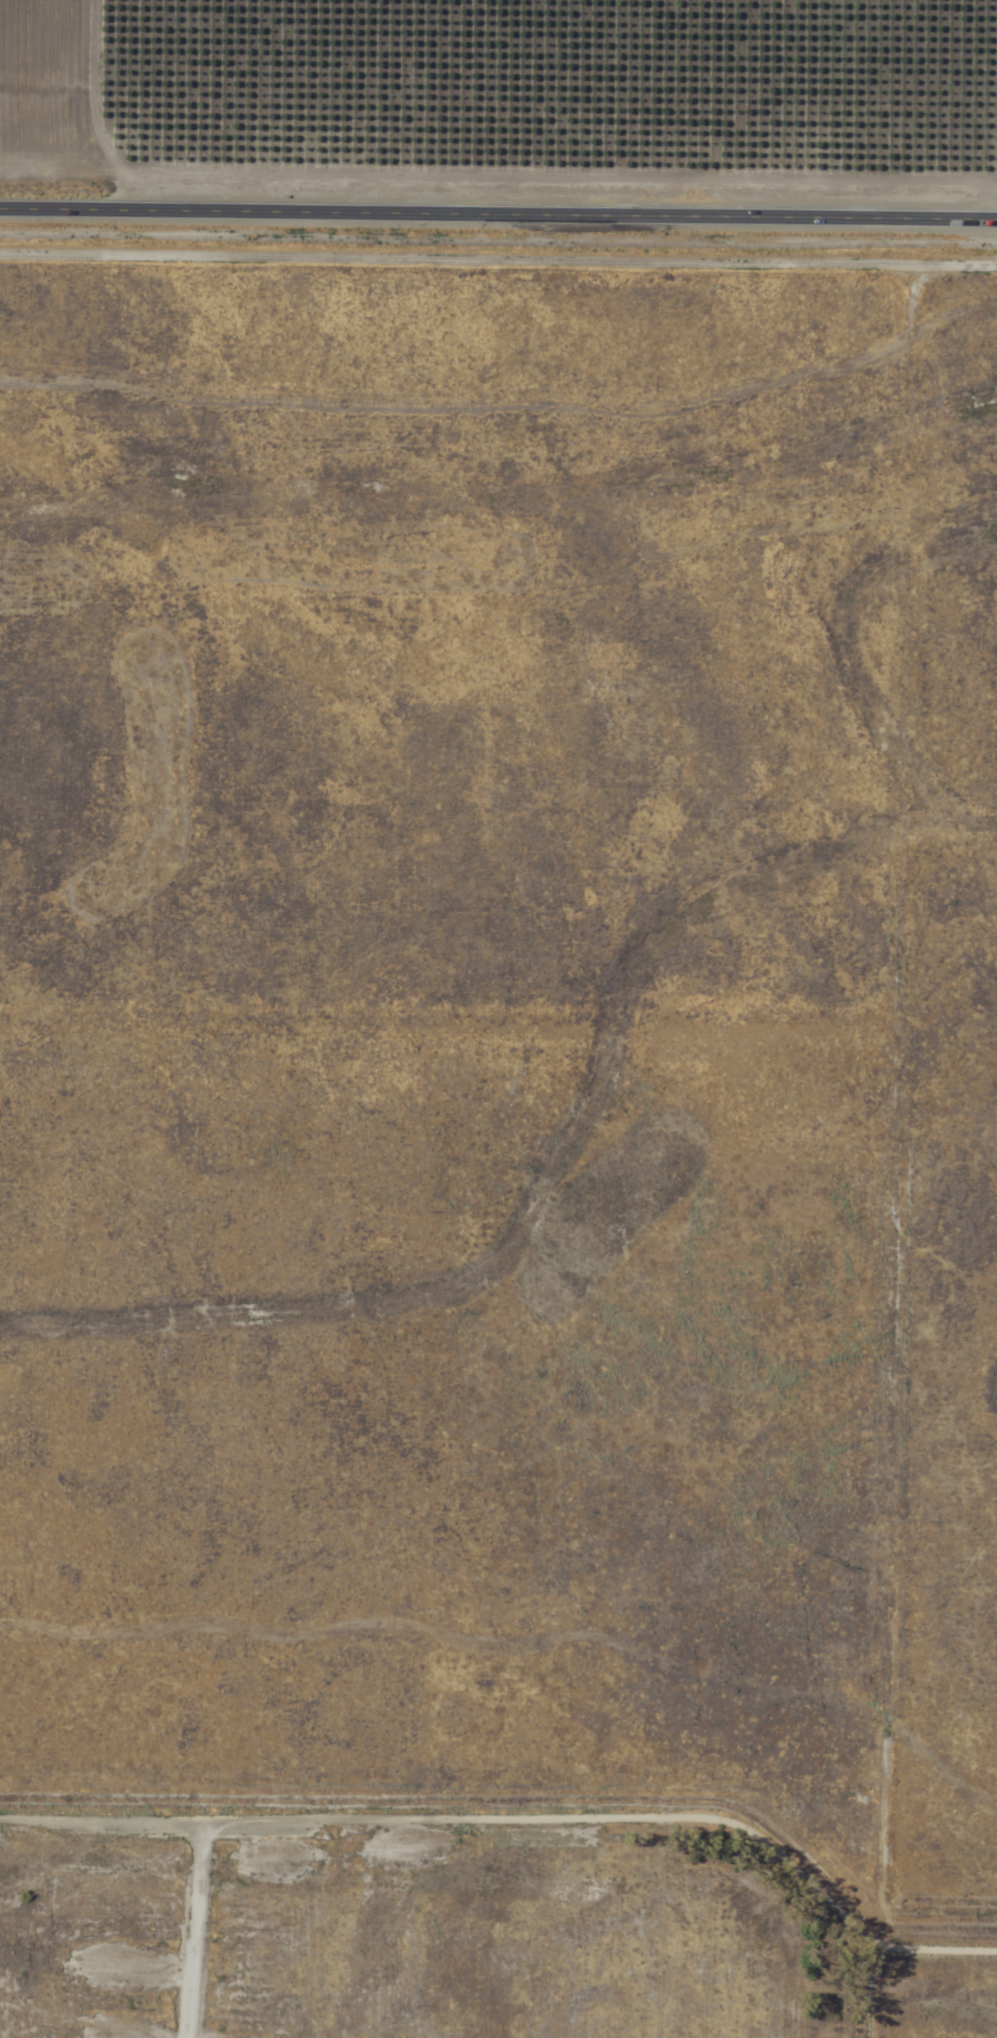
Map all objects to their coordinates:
road: (498, 214)
crop: (498, 1152)

